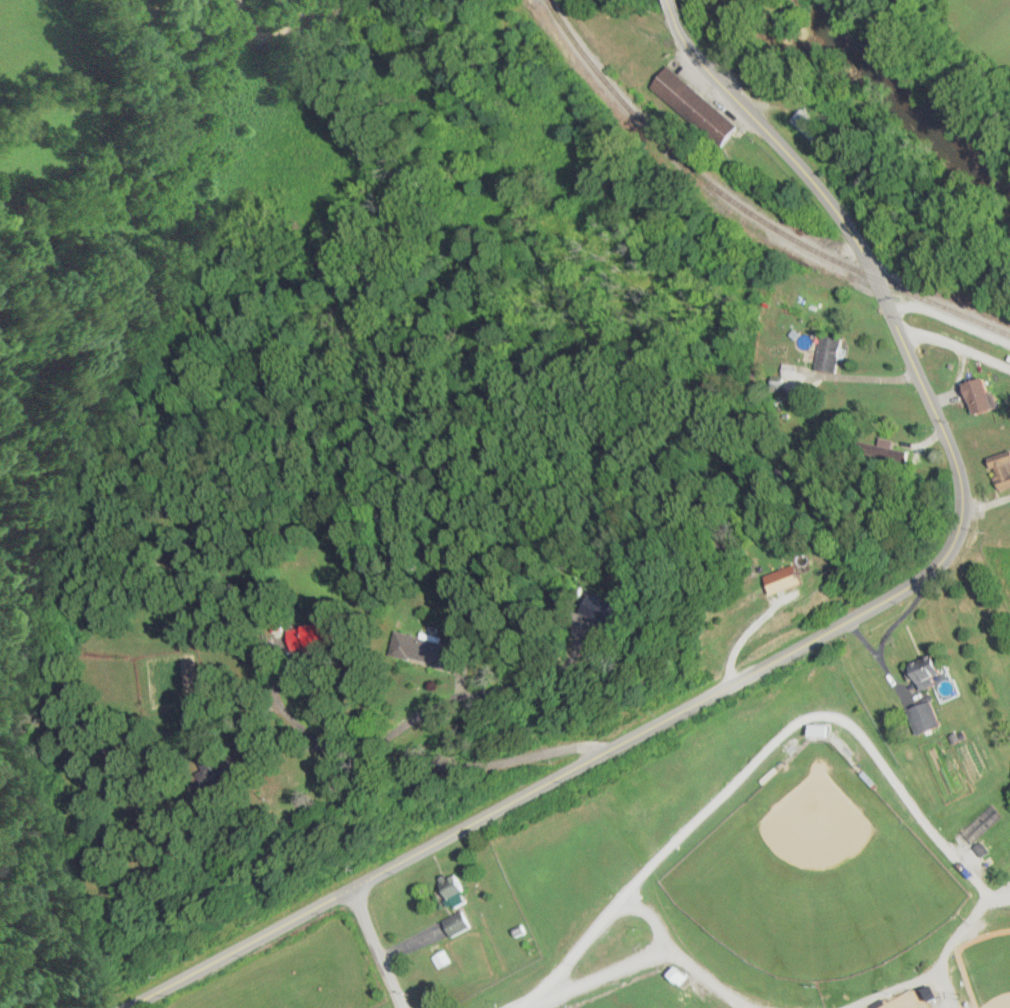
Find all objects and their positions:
building: (687, 96)
river: (906, 103)
building: (809, 128)
railway: (748, 210)
building: (833, 353)
building: (986, 397)
building: (1004, 469)
building: (799, 579)
building: (616, 608)
road: (830, 633)
building: (433, 650)
building: (937, 674)
building: (930, 718)
building: (827, 730)
building: (220, 758)
building: (461, 891)
building: (462, 924)
road: (377, 948)
building: (684, 976)

